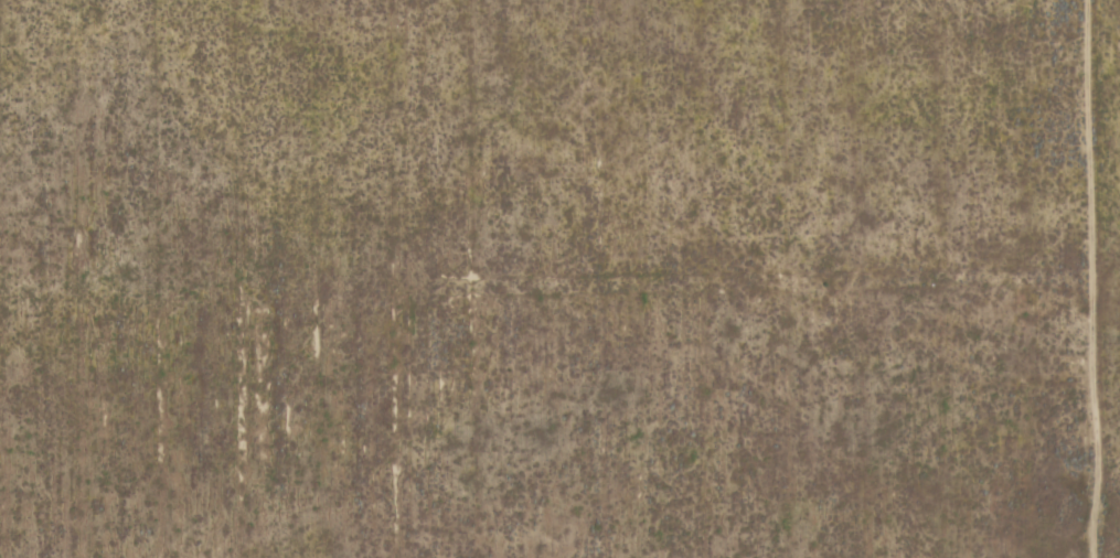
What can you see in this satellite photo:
road: (1087, 278)

